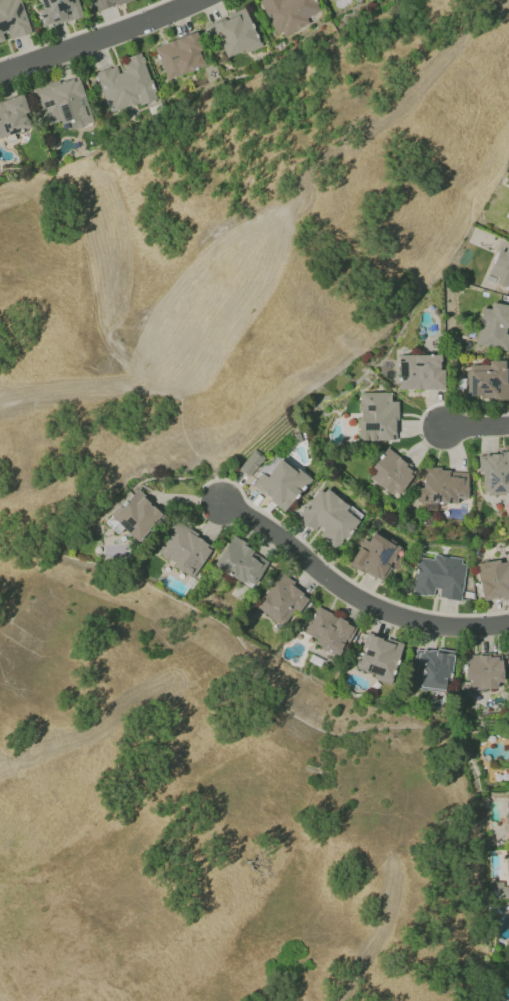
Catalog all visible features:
building: (107, 3)
building: (57, 11)
building: (287, 14)
building: (12, 20)
building: (234, 33)
road: (97, 39)
building: (179, 55)
building: (125, 83)
building: (63, 103)
building: (12, 116)
building: (500, 267)
road: (192, 282)
building: (493, 327)
building: (419, 372)
building: (487, 381)
road: (189, 383)
building: (376, 416)
road: (477, 428)
building: (250, 463)
building: (391, 472)
building: (494, 473)
building: (280, 484)
building: (442, 486)
building: (135, 515)
building: (328, 517)
building: (182, 548)
building: (376, 557)
building: (240, 562)
building: (439, 577)
building: (493, 580)
road: (355, 595)
building: (280, 600)
building: (328, 631)
building: (378, 657)
building: (432, 669)
building: (482, 671)
building: (507, 819)
building: (508, 869)
building: (499, 890)

